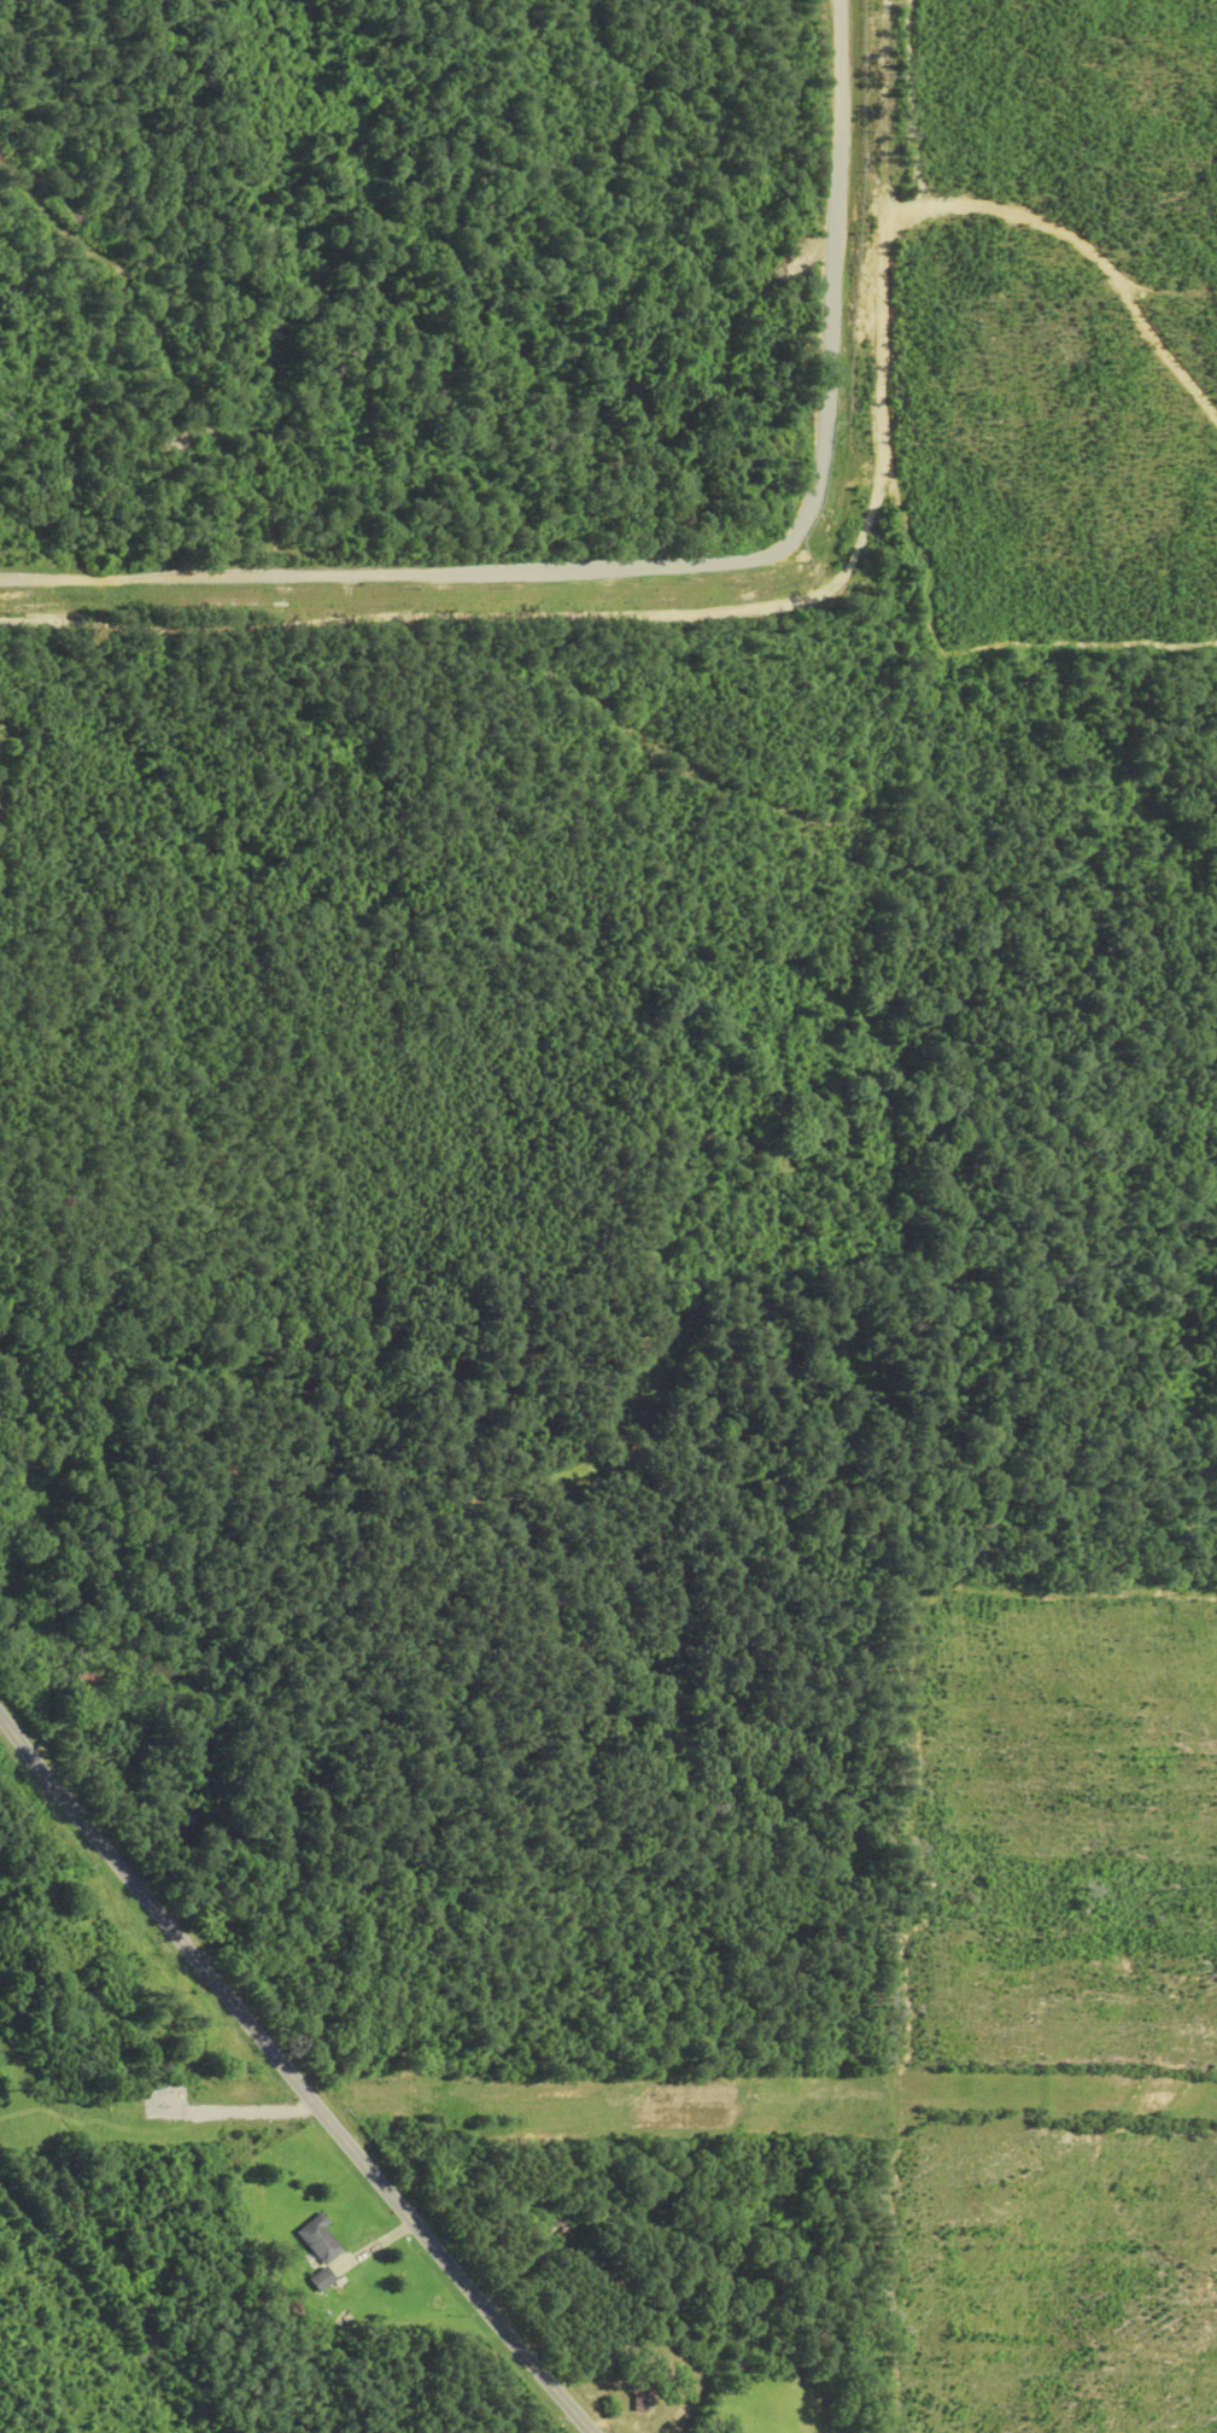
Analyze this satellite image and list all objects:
road: (673, 560)
building: (81, 1678)
road: (293, 2077)
building: (548, 2212)
building: (318, 2239)
building: (321, 2280)
building: (640, 2394)

